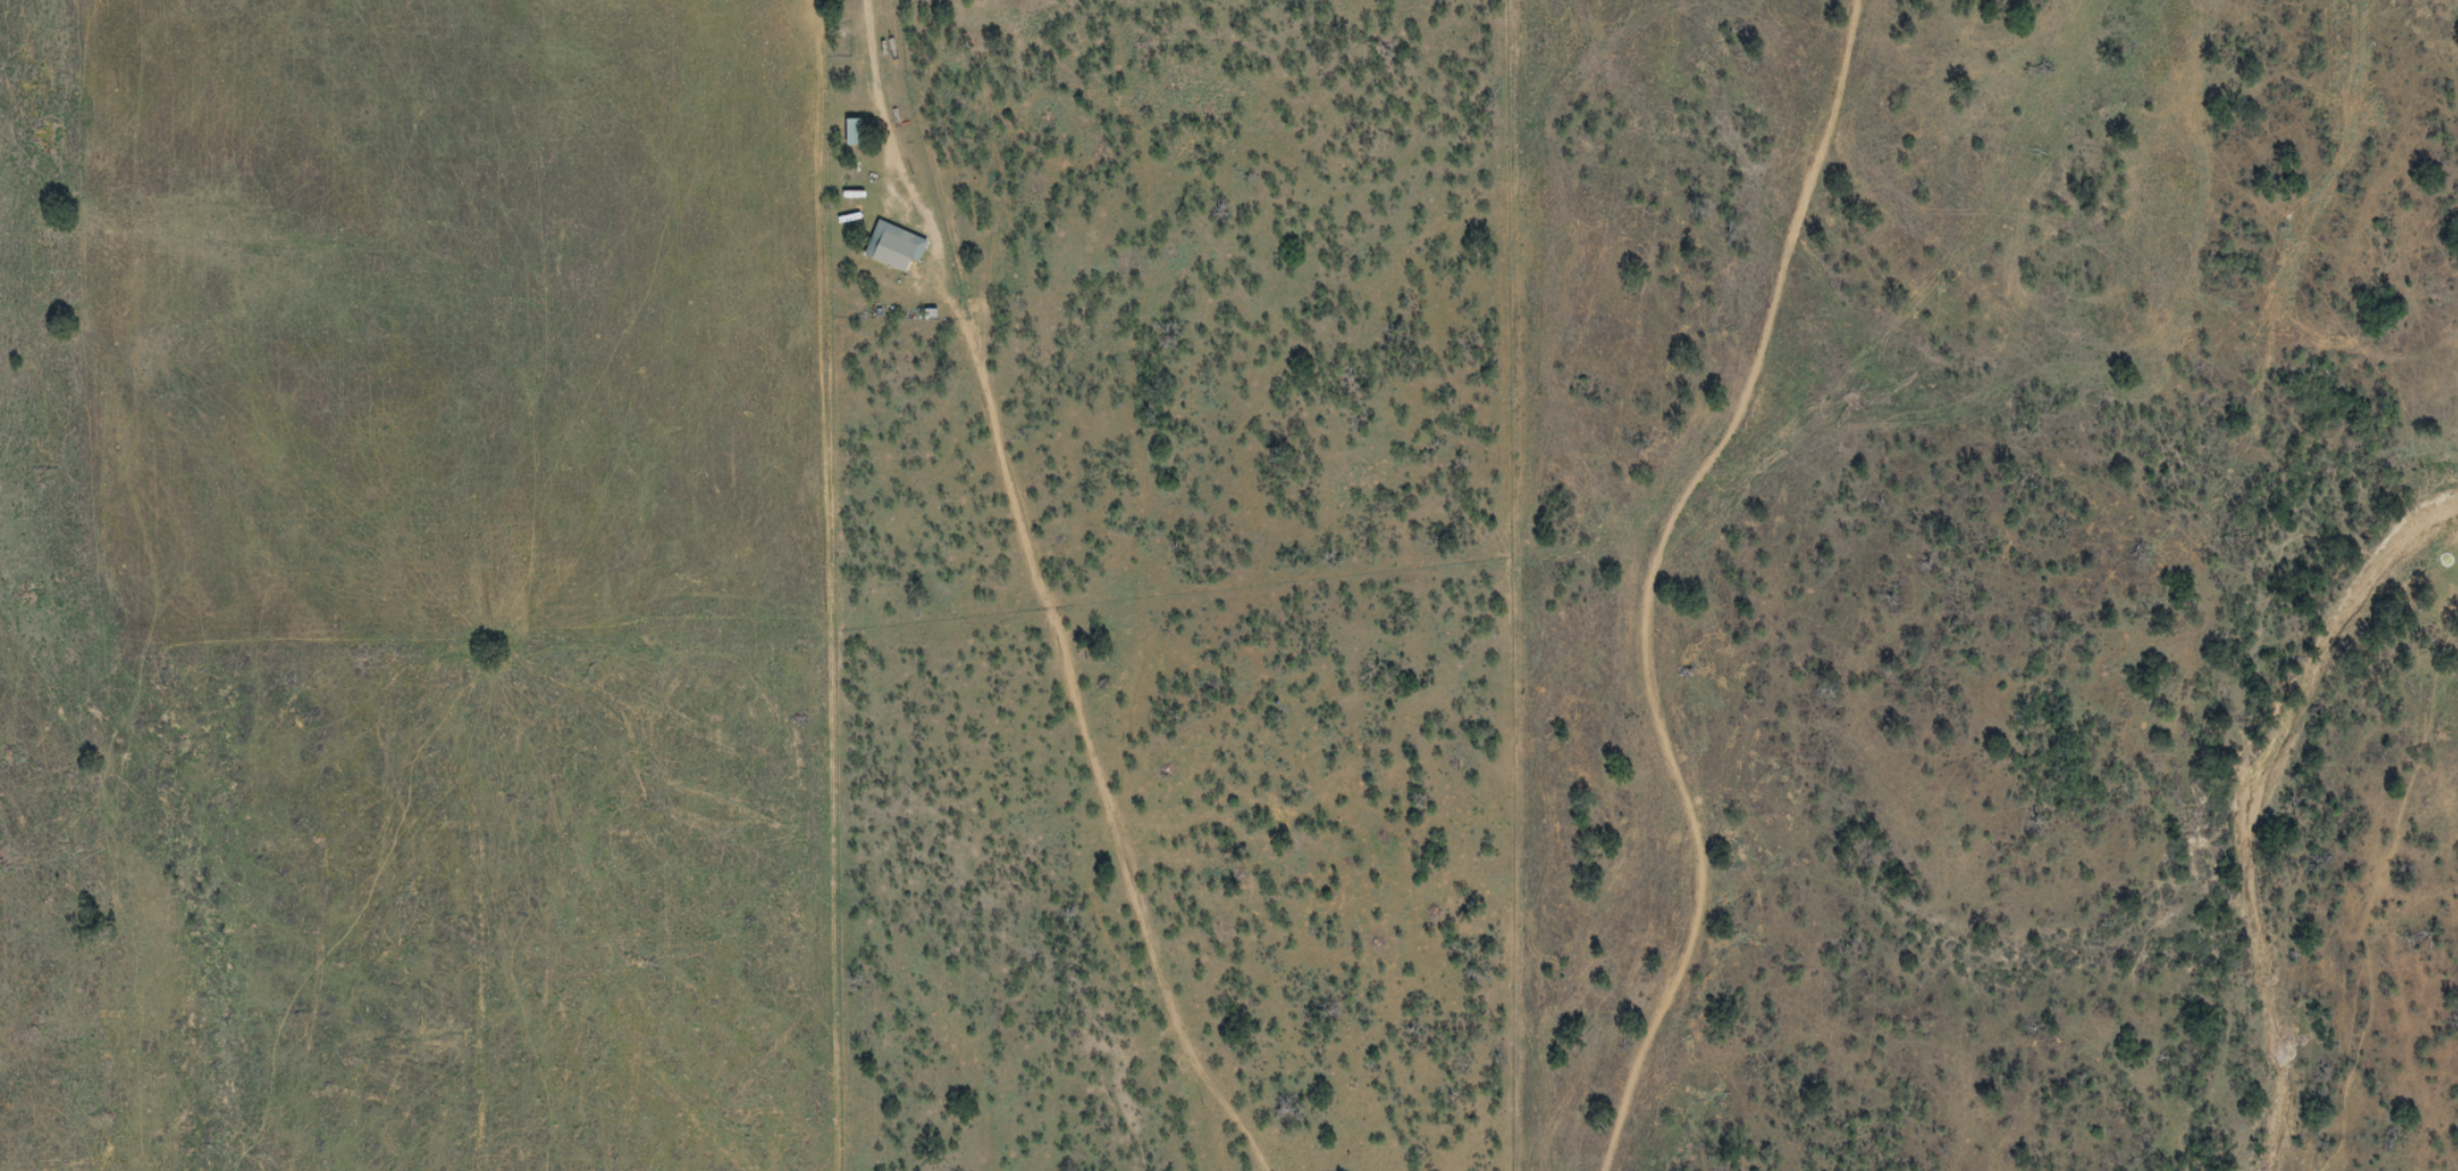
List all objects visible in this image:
building: (846, 133)
building: (889, 247)

